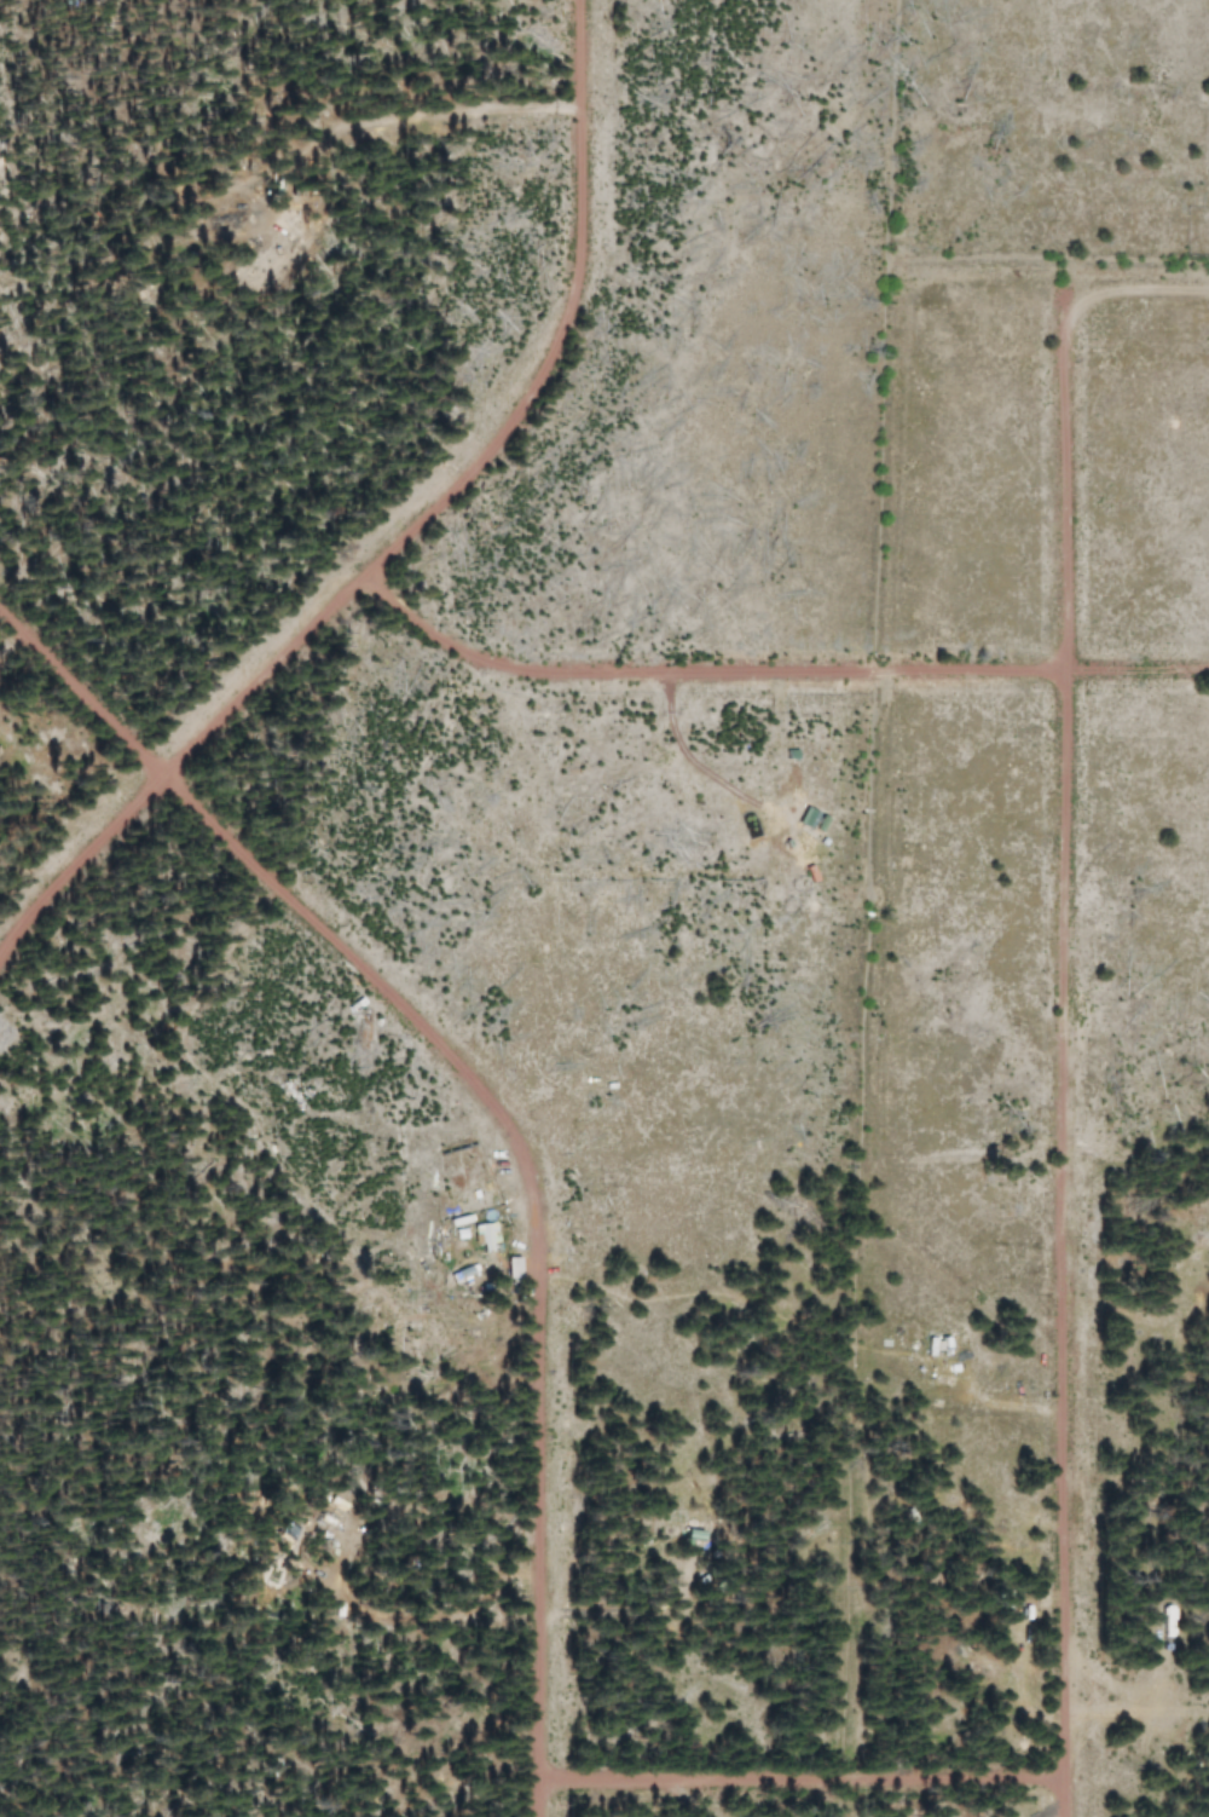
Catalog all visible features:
road: (411, 529)
road: (771, 669)
road: (1060, 1046)
road: (498, 1118)
building: (482, 1235)
road: (797, 1778)

